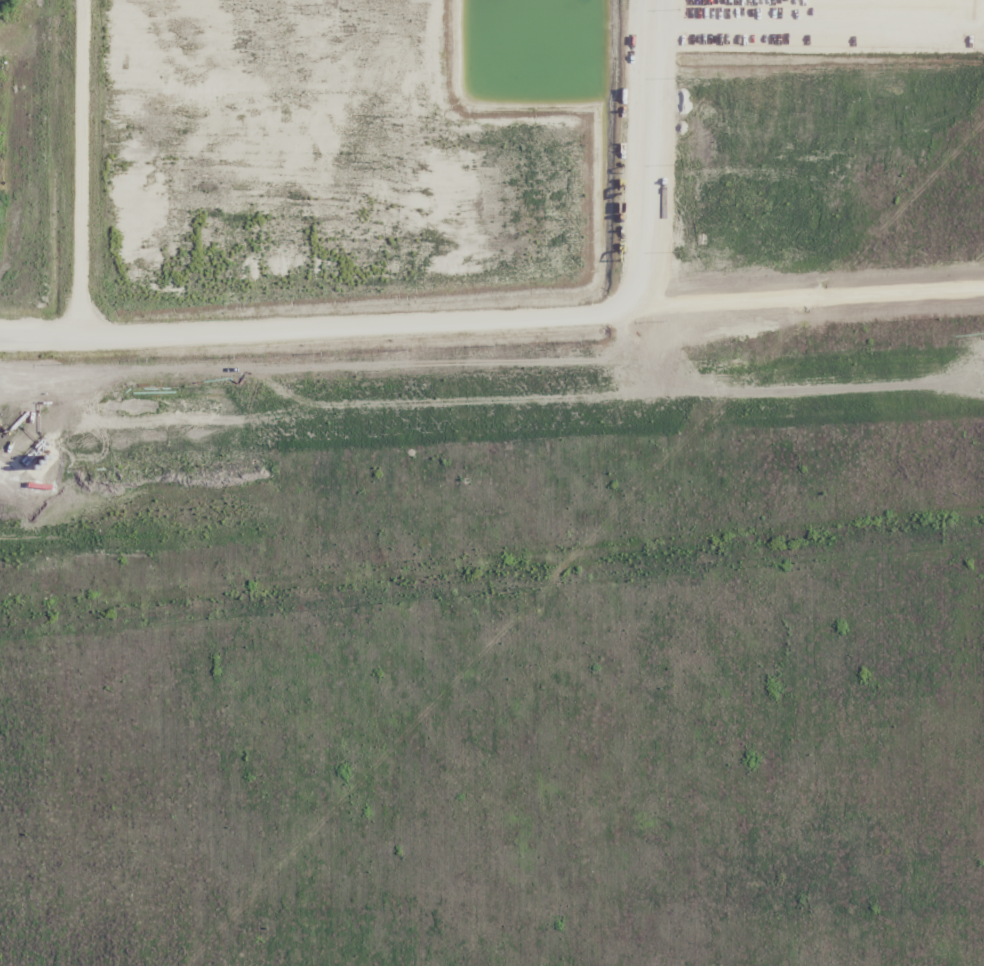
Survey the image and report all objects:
crop: (494, 485)

